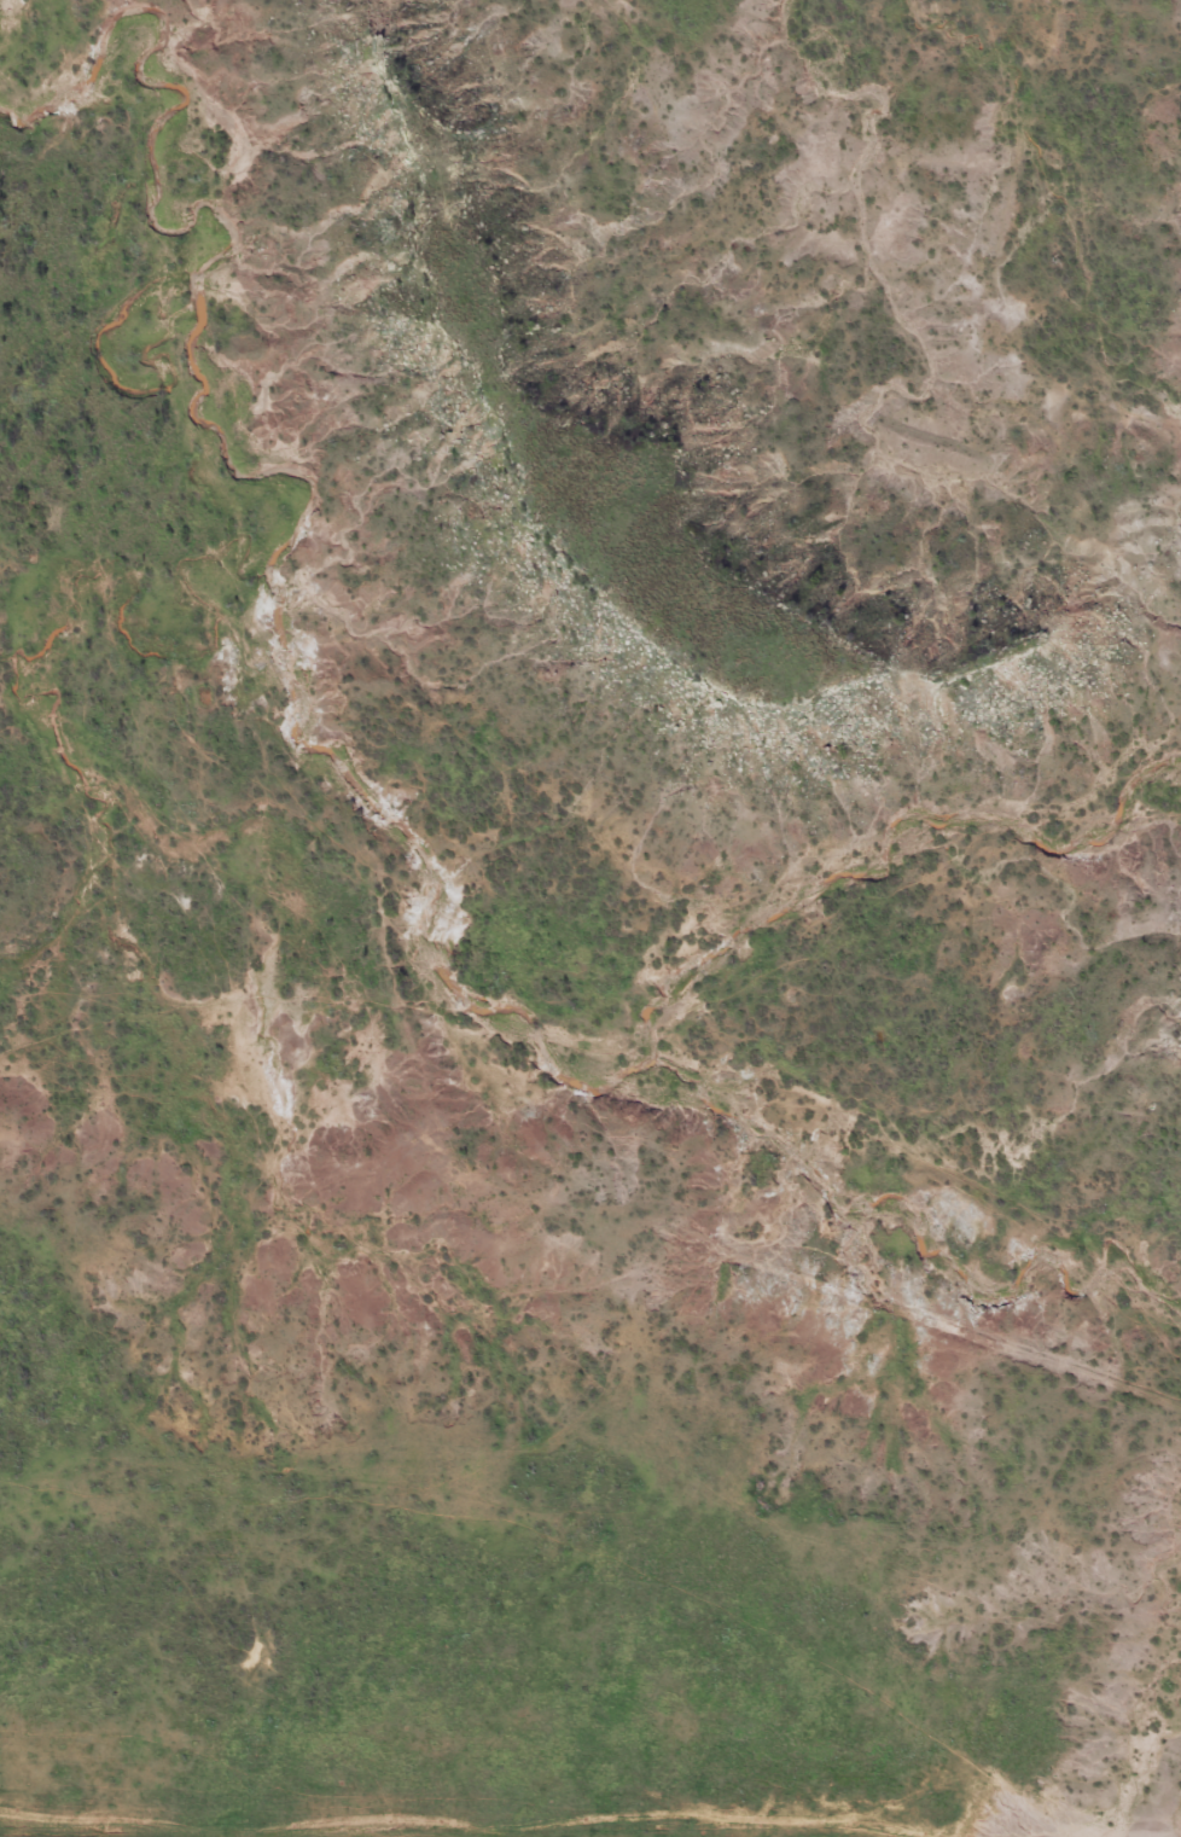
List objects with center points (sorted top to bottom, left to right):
road: (604, 1624)

